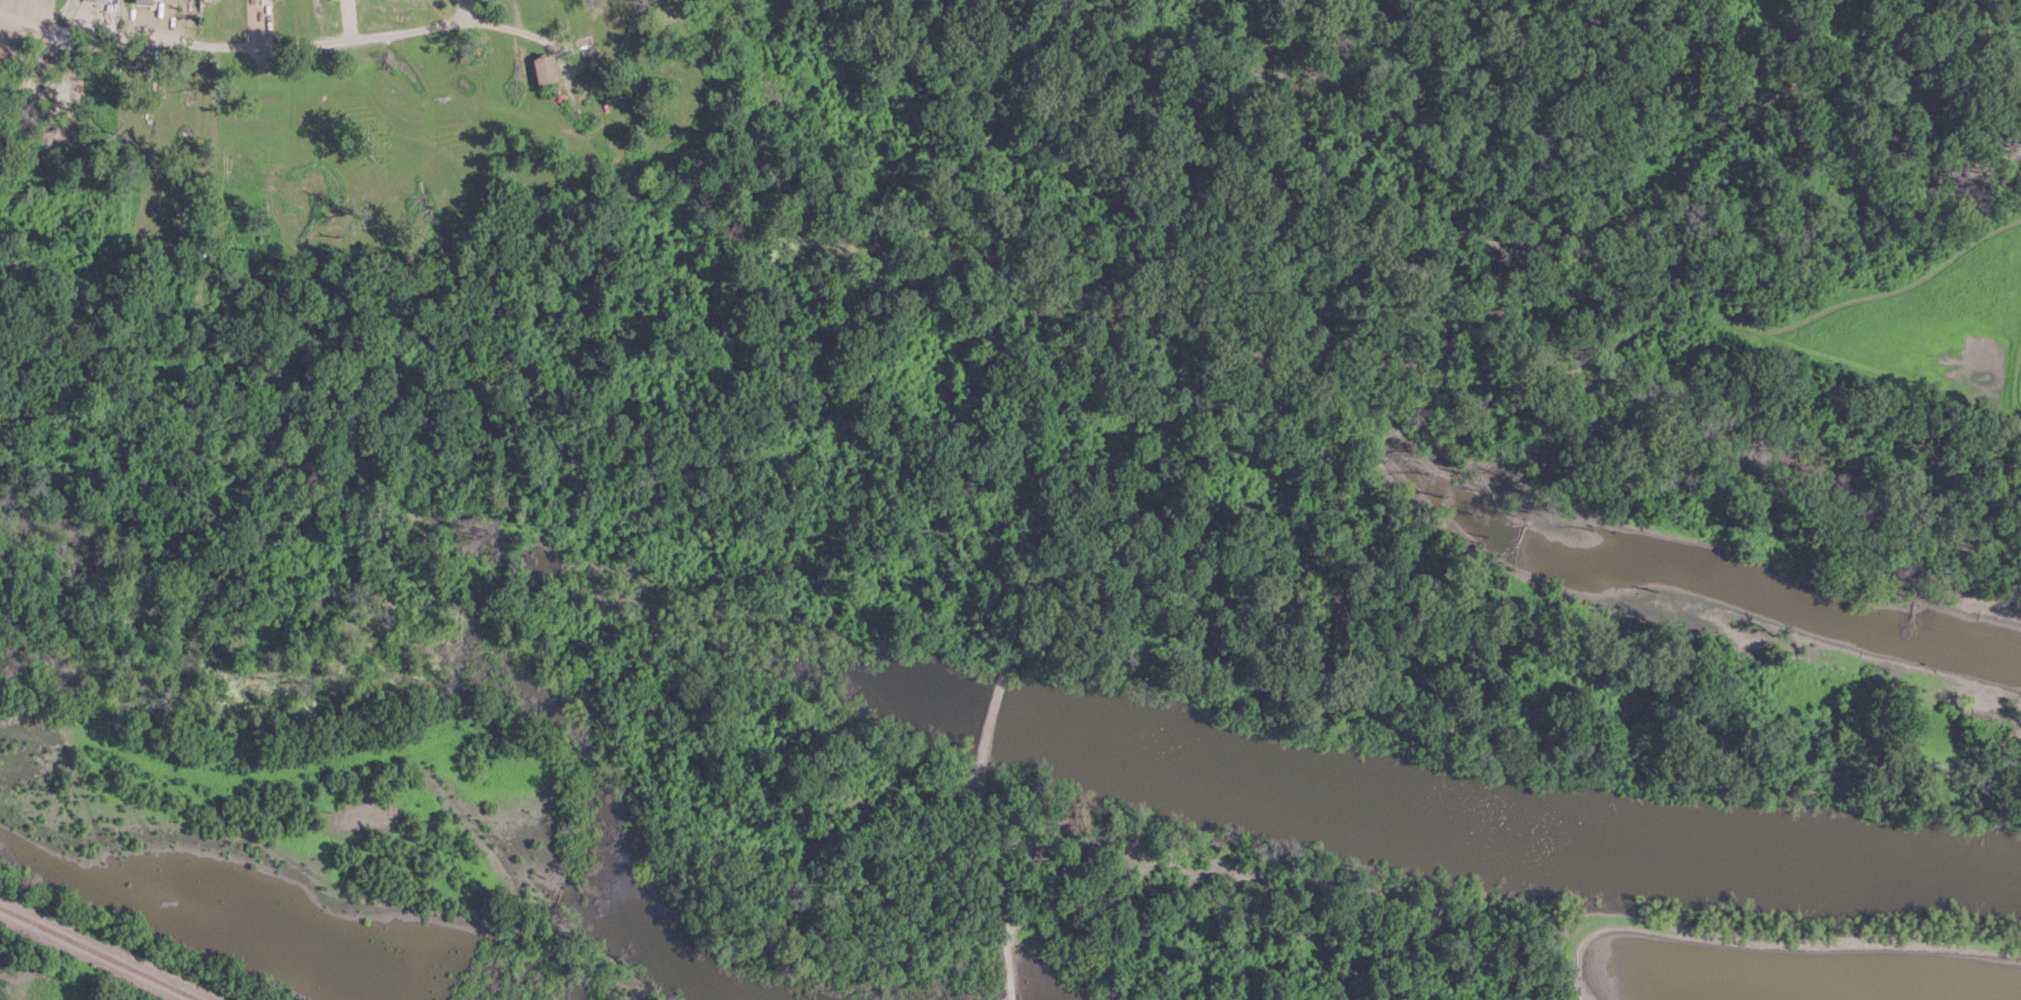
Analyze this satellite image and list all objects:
road: (260, 49)
railway: (98, 954)

